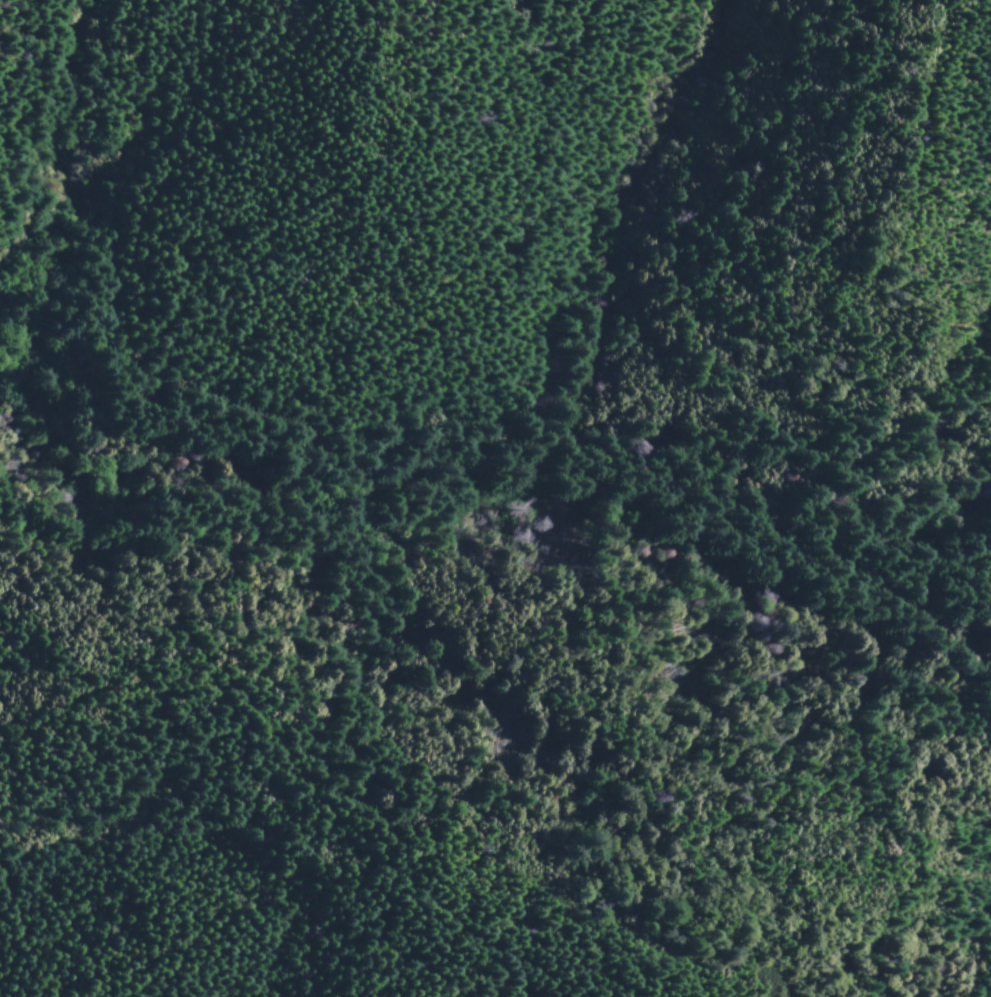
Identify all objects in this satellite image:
road: (488, 337)
road: (276, 509)
road: (969, 665)

